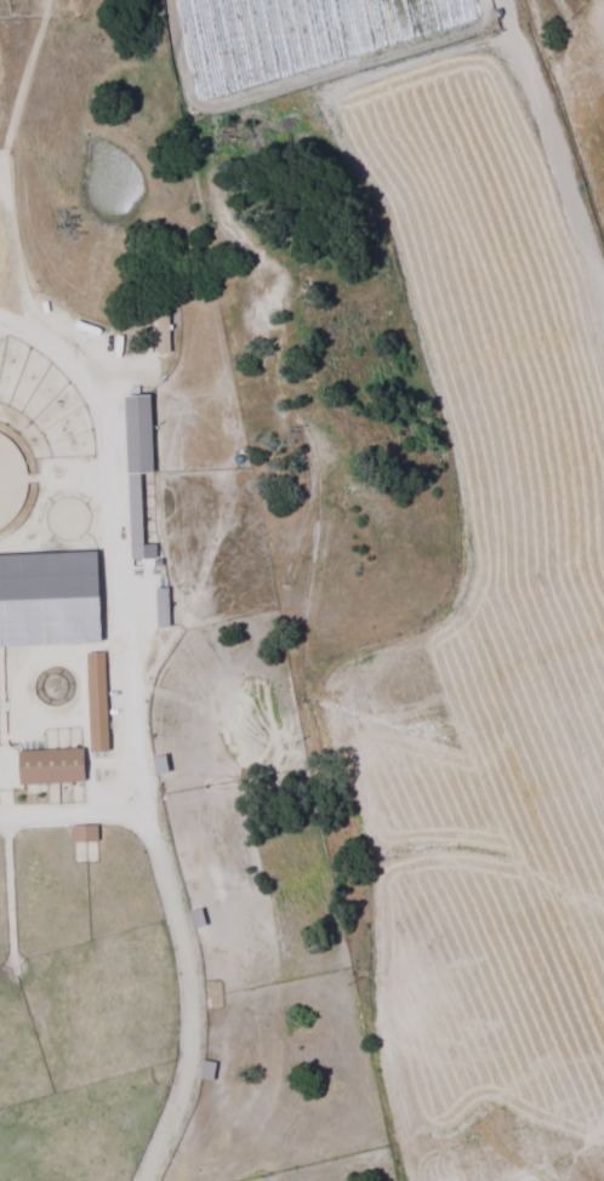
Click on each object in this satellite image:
road: (555, 144)
building: (158, 335)
building: (137, 468)
crop: (477, 570)
building: (49, 598)
building: (161, 606)
building: (96, 701)
building: (51, 765)
building: (85, 838)

